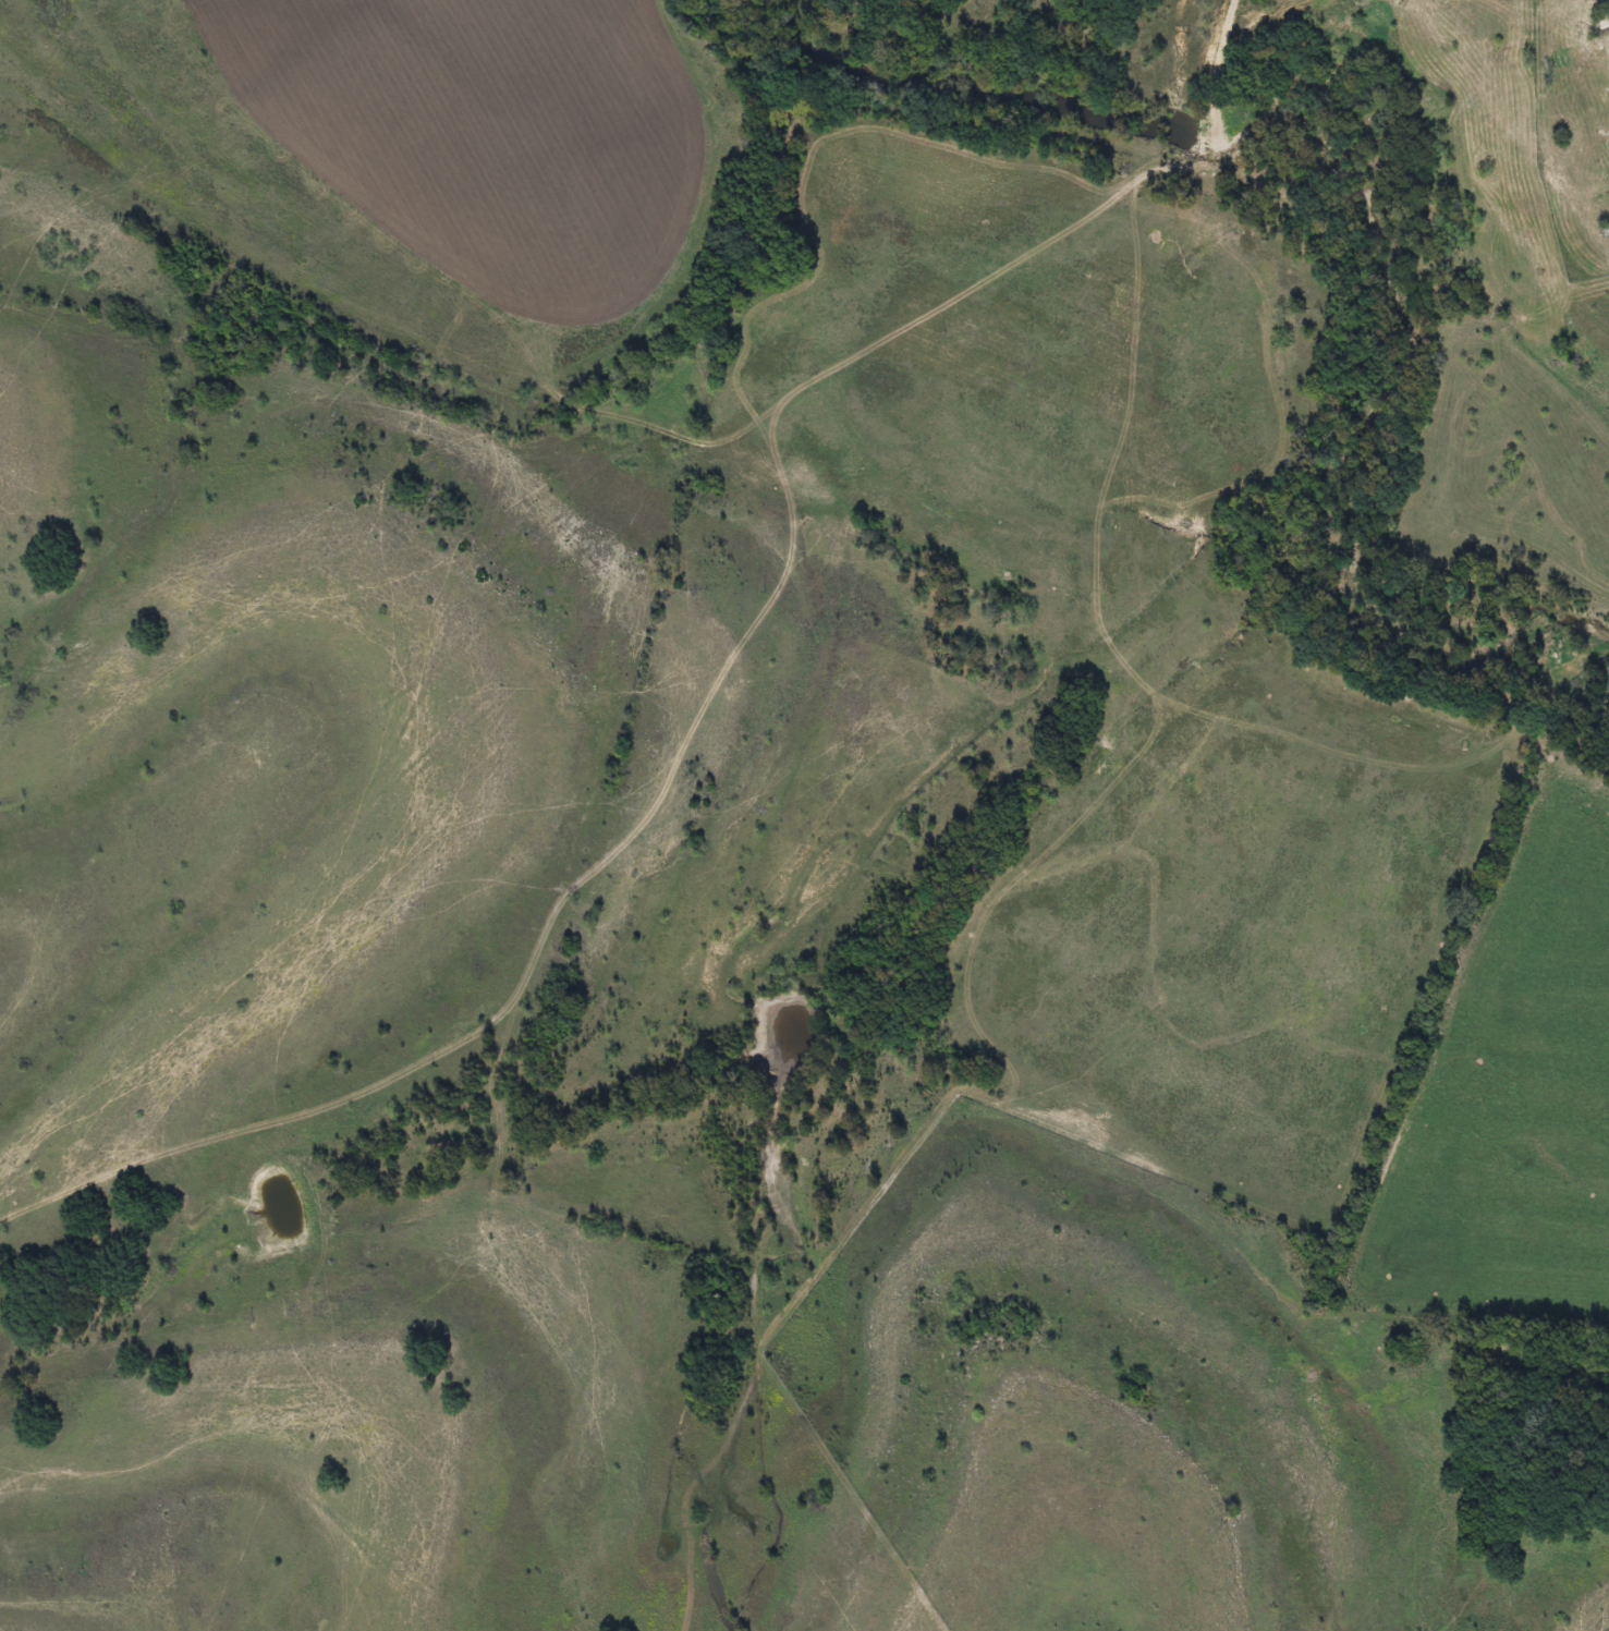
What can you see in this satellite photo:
building: (1604, 22)
road: (1220, 38)

